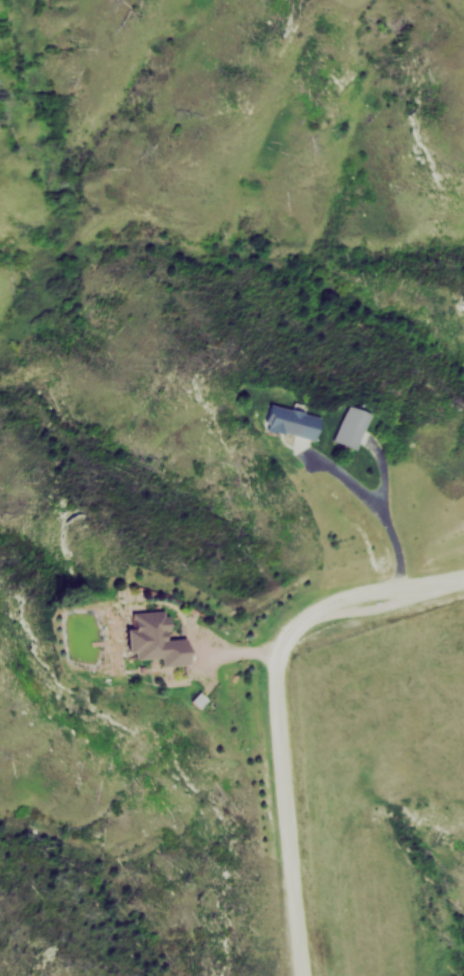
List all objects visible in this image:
building: (287, 421)
building: (350, 427)
road: (394, 550)
building: (152, 638)
road: (200, 649)
road: (279, 714)

